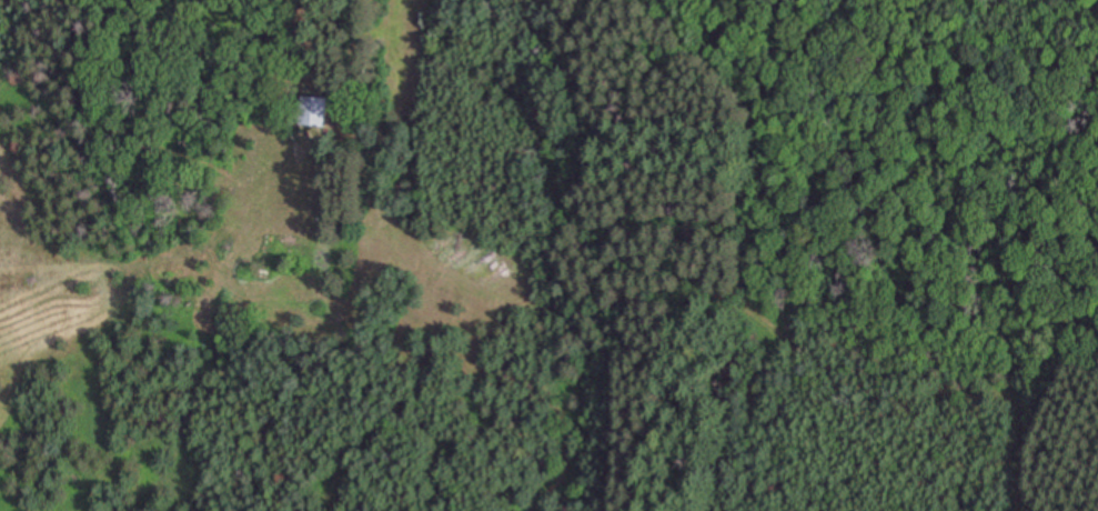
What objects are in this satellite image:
building: (312, 111)

